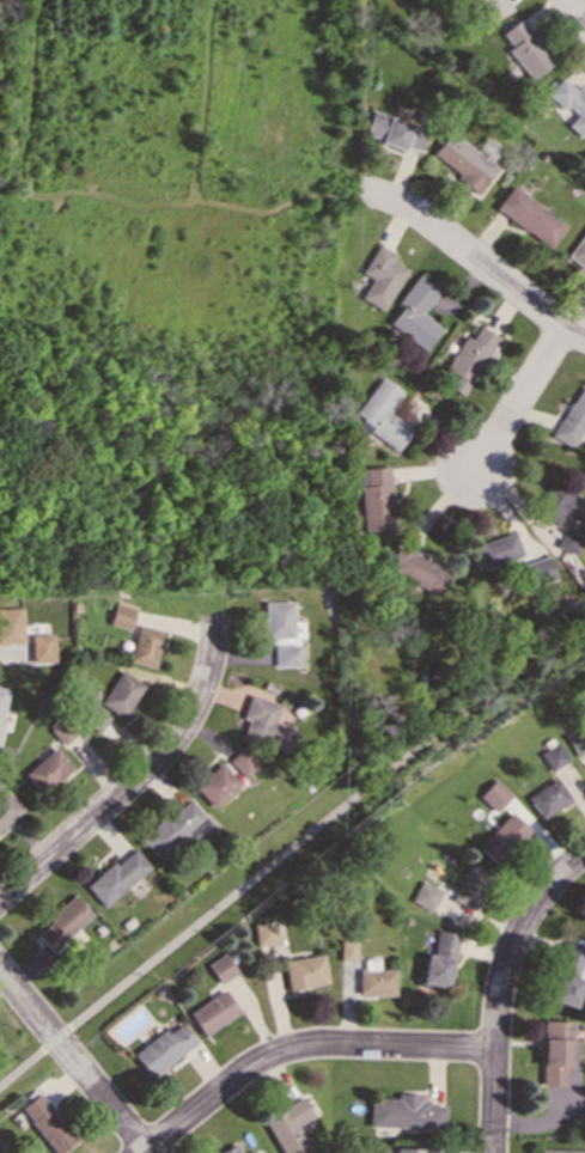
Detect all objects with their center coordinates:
building: (492, 8)
road: (574, 12)
building: (525, 49)
building: (571, 103)
building: (392, 130)
building: (463, 160)
building: (529, 215)
building: (579, 254)
road: (479, 261)
building: (380, 276)
building: (415, 312)
building: (469, 359)
road: (520, 399)
building: (383, 414)
building: (572, 420)
building: (377, 498)
building: (559, 501)
building: (569, 541)
building: (499, 550)
building: (540, 567)
building: (419, 569)
building: (122, 615)
building: (278, 618)
building: (11, 626)
building: (145, 646)
building: (41, 647)
building: (286, 655)
building: (121, 694)
building: (2, 701)
building: (93, 718)
building: (264, 724)
building: (61, 731)
building: (577, 740)
building: (554, 756)
building: (243, 761)
building: (48, 769)
road: (138, 776)
building: (217, 785)
building: (494, 794)
building: (549, 797)
building: (7, 807)
building: (173, 829)
building: (502, 837)
road: (288, 859)
building: (116, 877)
building: (470, 885)
building: (426, 895)
building: (583, 920)
building: (62, 923)
building: (264, 933)
building: (347, 950)
building: (439, 959)
building: (221, 968)
building: (304, 971)
building: (568, 975)
building: (374, 980)
road: (499, 989)
building: (213, 1011)
road: (301, 1047)
building: (163, 1048)
building: (555, 1051)
road: (74, 1061)
building: (404, 1112)
building: (47, 1123)
building: (288, 1127)
building: (1, 1148)
building: (230, 1149)
building: (419, 1149)
building: (560, 1151)
building: (255, 1152)

